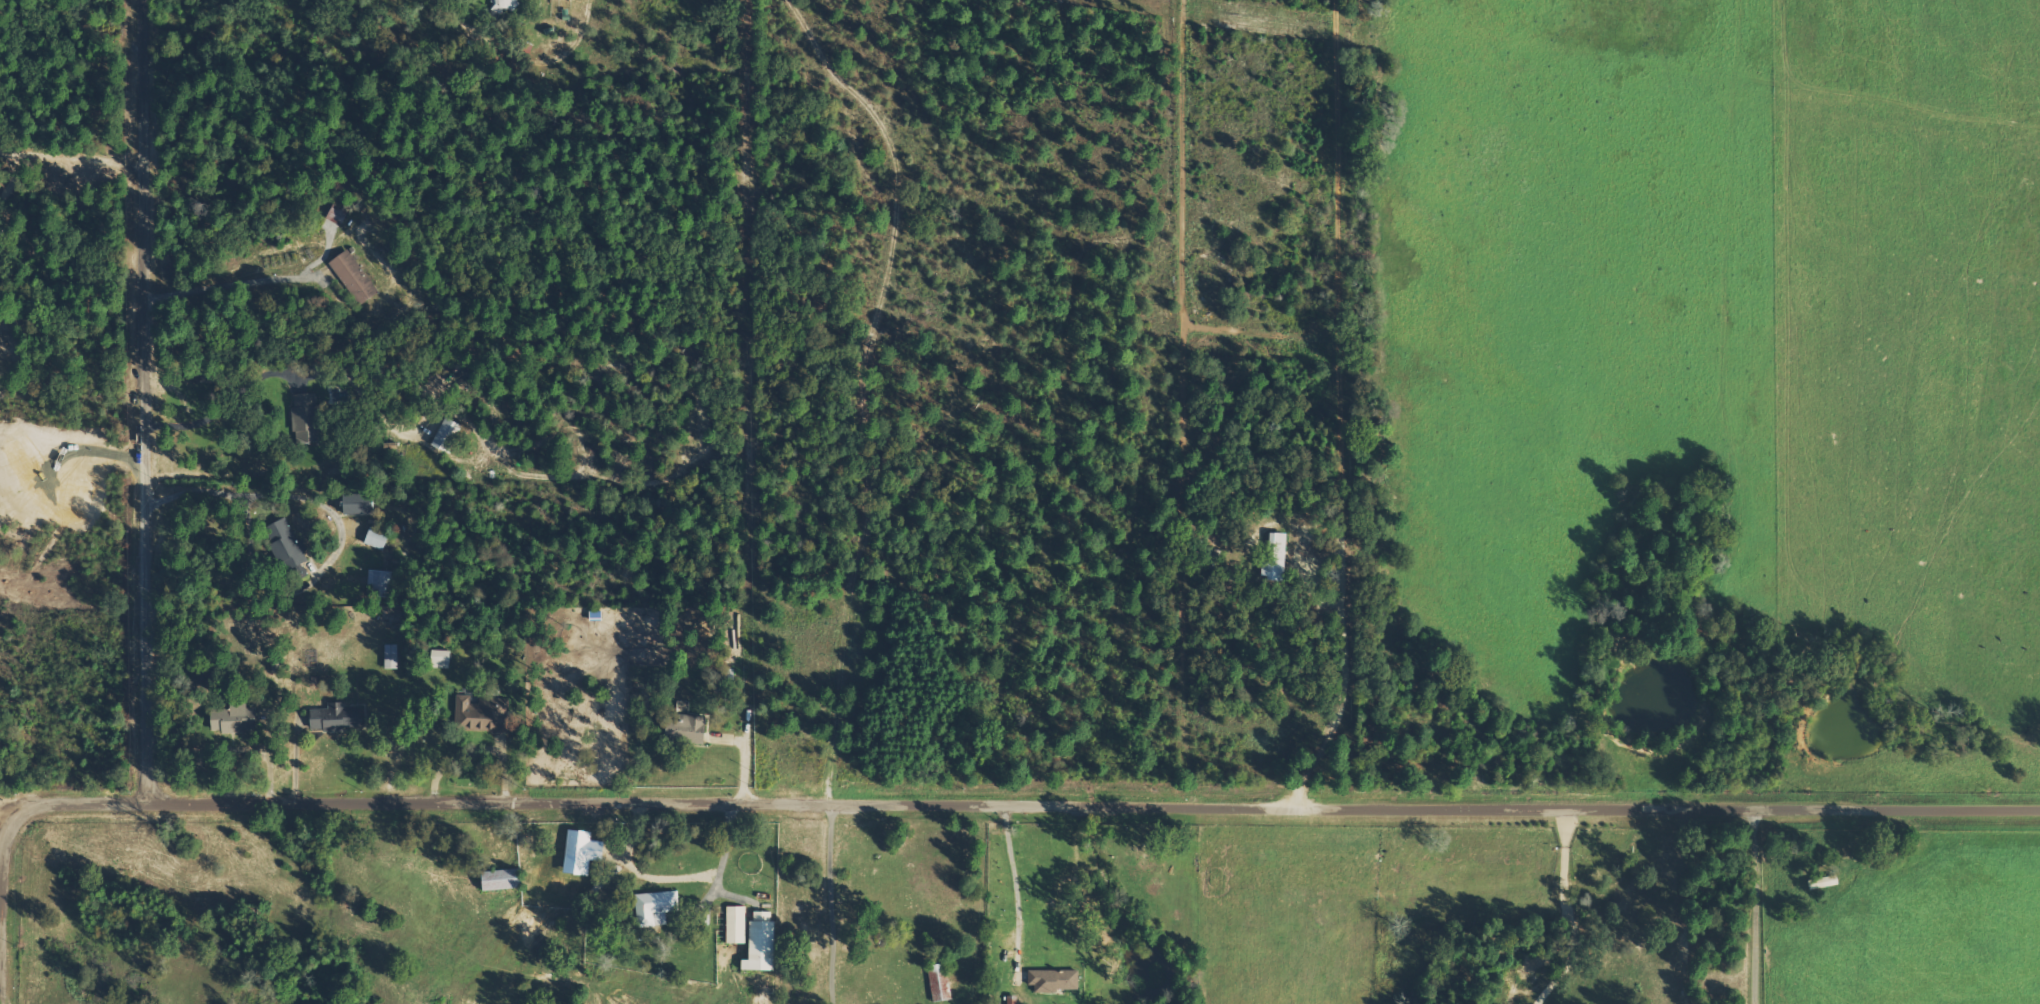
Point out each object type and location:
building: (500, 5)
road: (74, 112)
building: (337, 214)
building: (356, 277)
road: (148, 402)
building: (306, 417)
building: (352, 504)
building: (372, 539)
building: (1272, 555)
building: (374, 580)
building: (389, 656)
building: (437, 659)
building: (478, 712)
building: (331, 717)
building: (234, 718)
building: (683, 728)
road: (934, 805)
building: (577, 852)
building: (496, 879)
road: (827, 904)
building: (651, 906)
building: (733, 924)
building: (756, 942)
building: (1051, 980)

